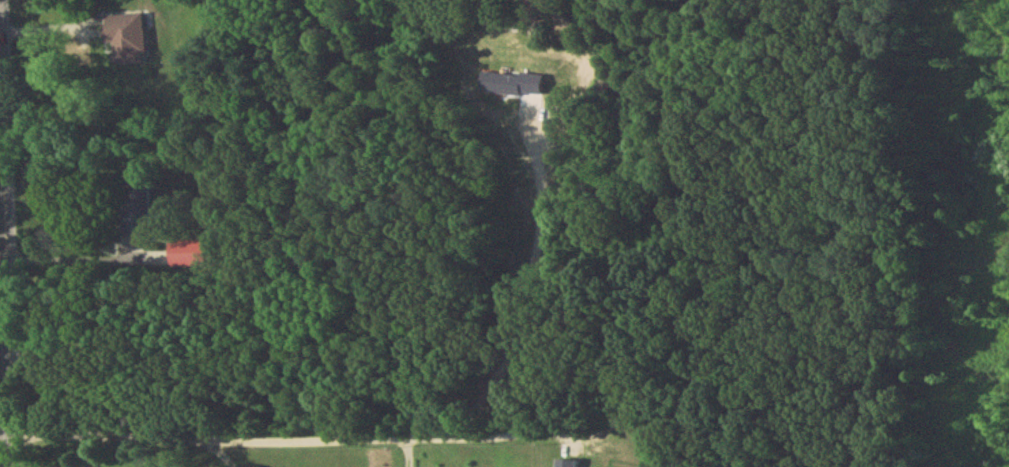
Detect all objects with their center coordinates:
road: (0, 7)
building: (139, 212)
road: (7, 233)
road: (76, 242)
building: (190, 257)
road: (536, 283)
road: (6, 424)
road: (266, 444)
road: (223, 456)

